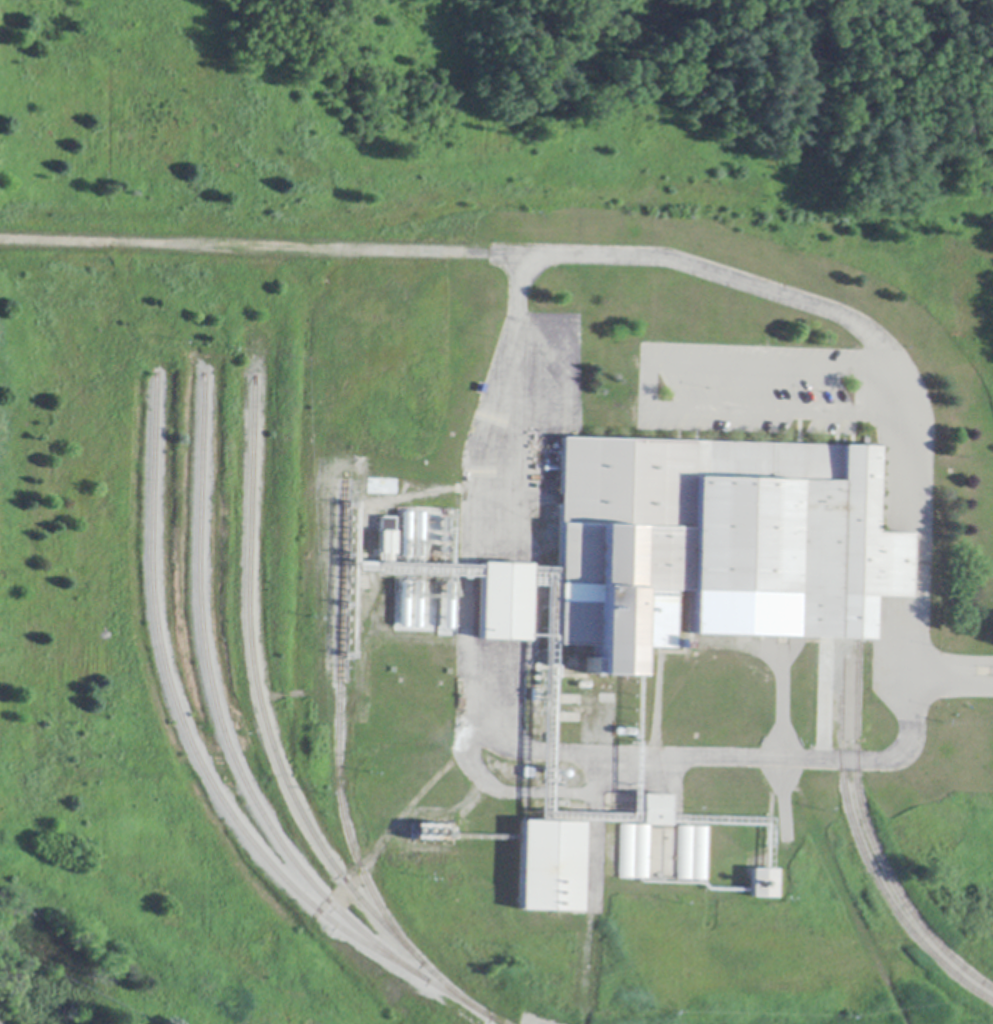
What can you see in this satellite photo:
road: (786, 299)
building: (713, 539)
building: (502, 601)
railway: (260, 697)
railway: (186, 729)
railway: (233, 752)
railway: (340, 783)
building: (428, 831)
building: (638, 837)
railway: (872, 843)
railway: (860, 850)
building: (690, 853)
building: (547, 865)
building: (761, 882)

